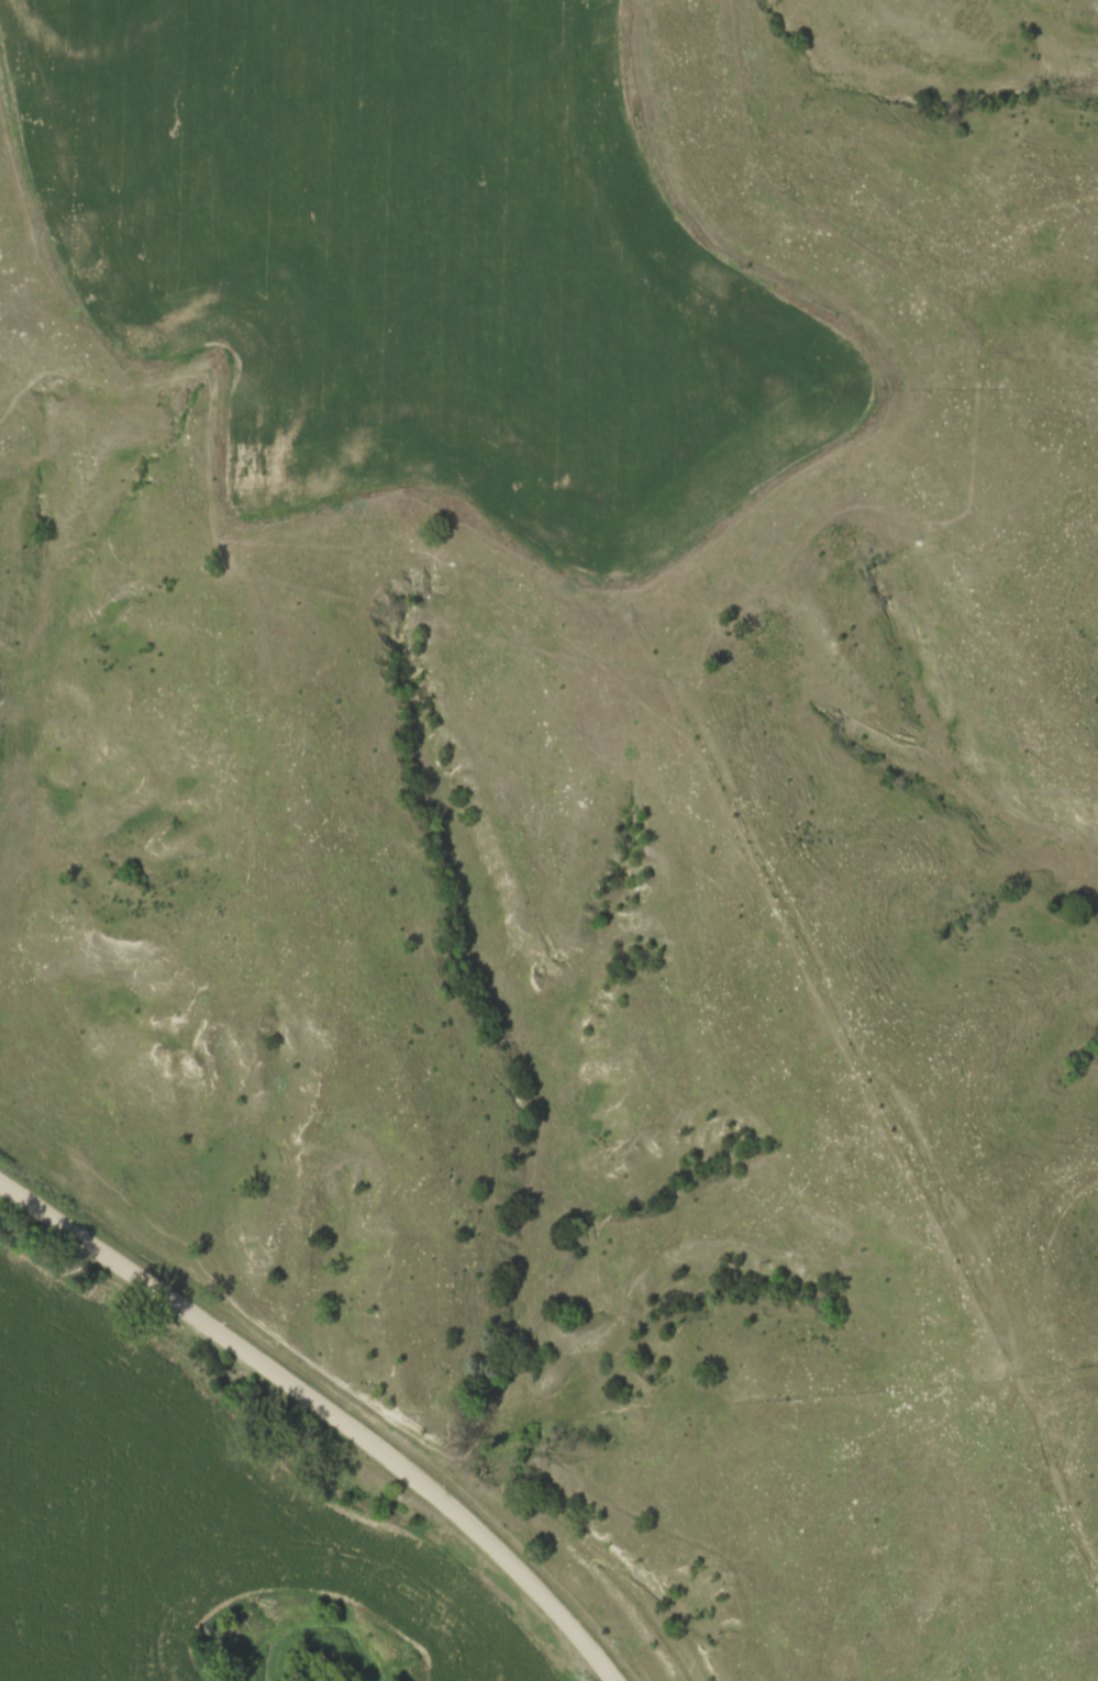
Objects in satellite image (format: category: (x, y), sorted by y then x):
road: (329, 1409)

